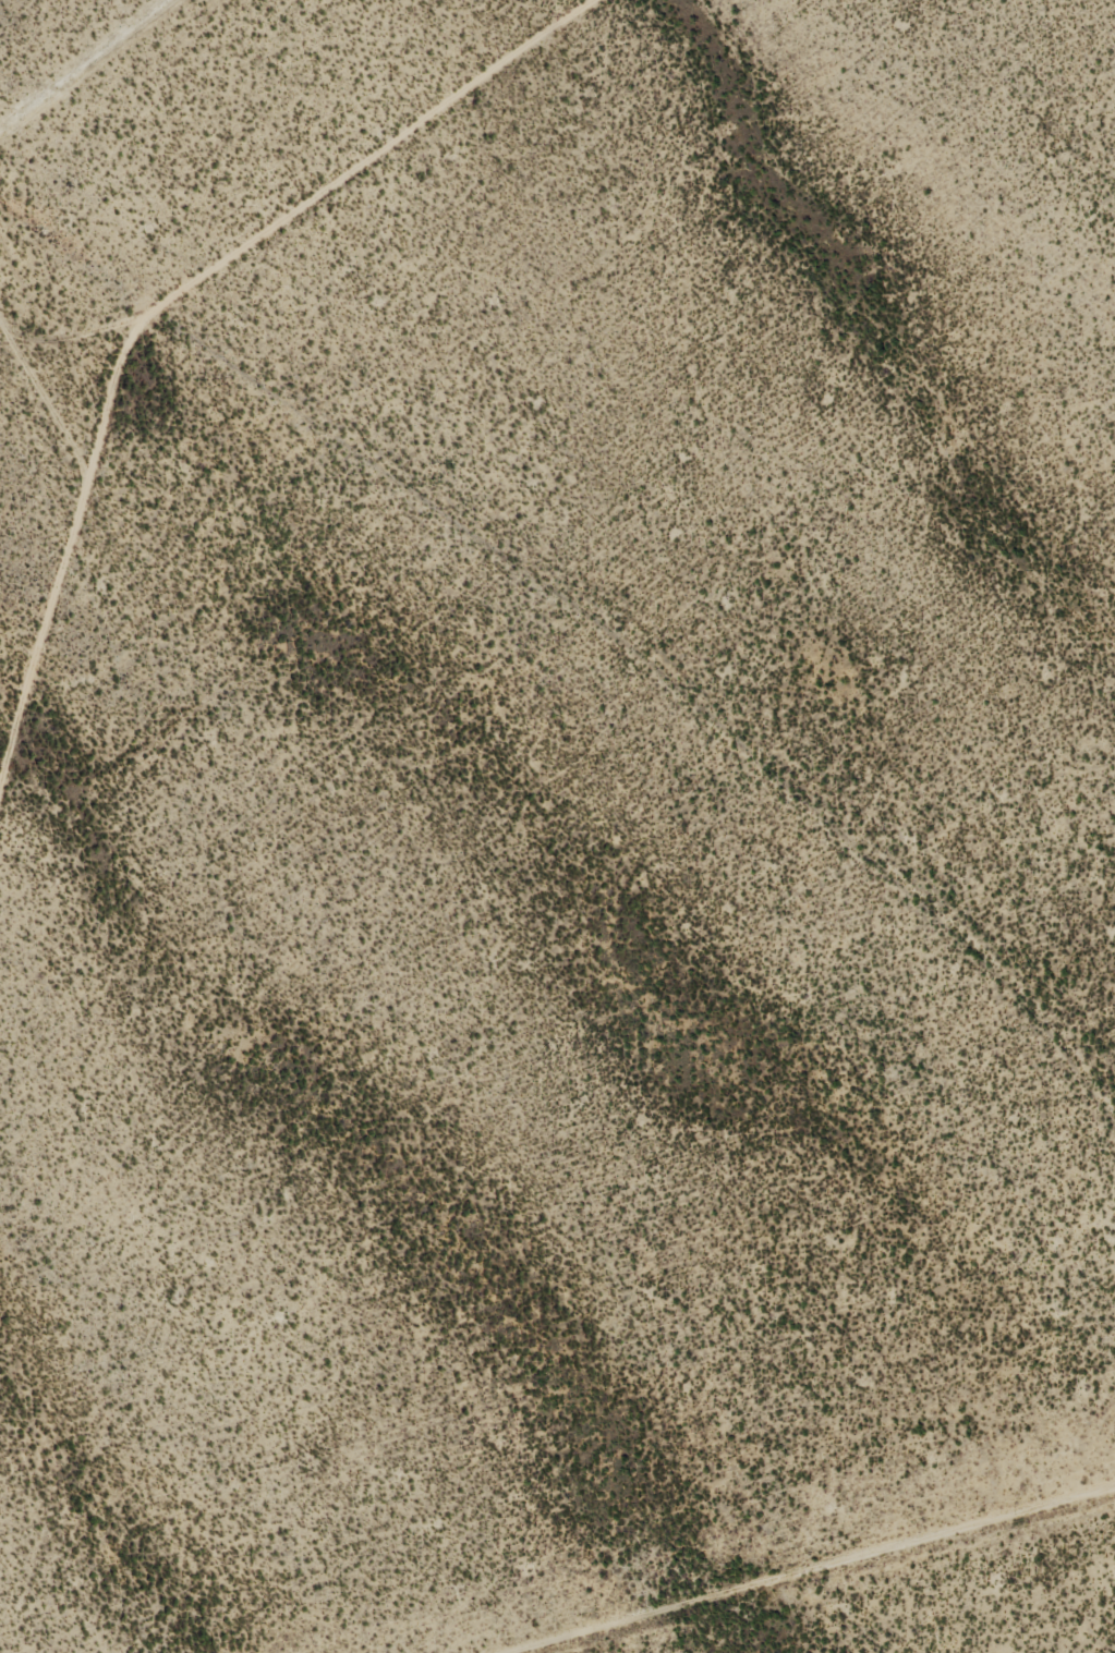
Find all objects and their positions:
road: (165, 304)
road: (45, 388)
road: (616, 635)
road: (789, 1577)

